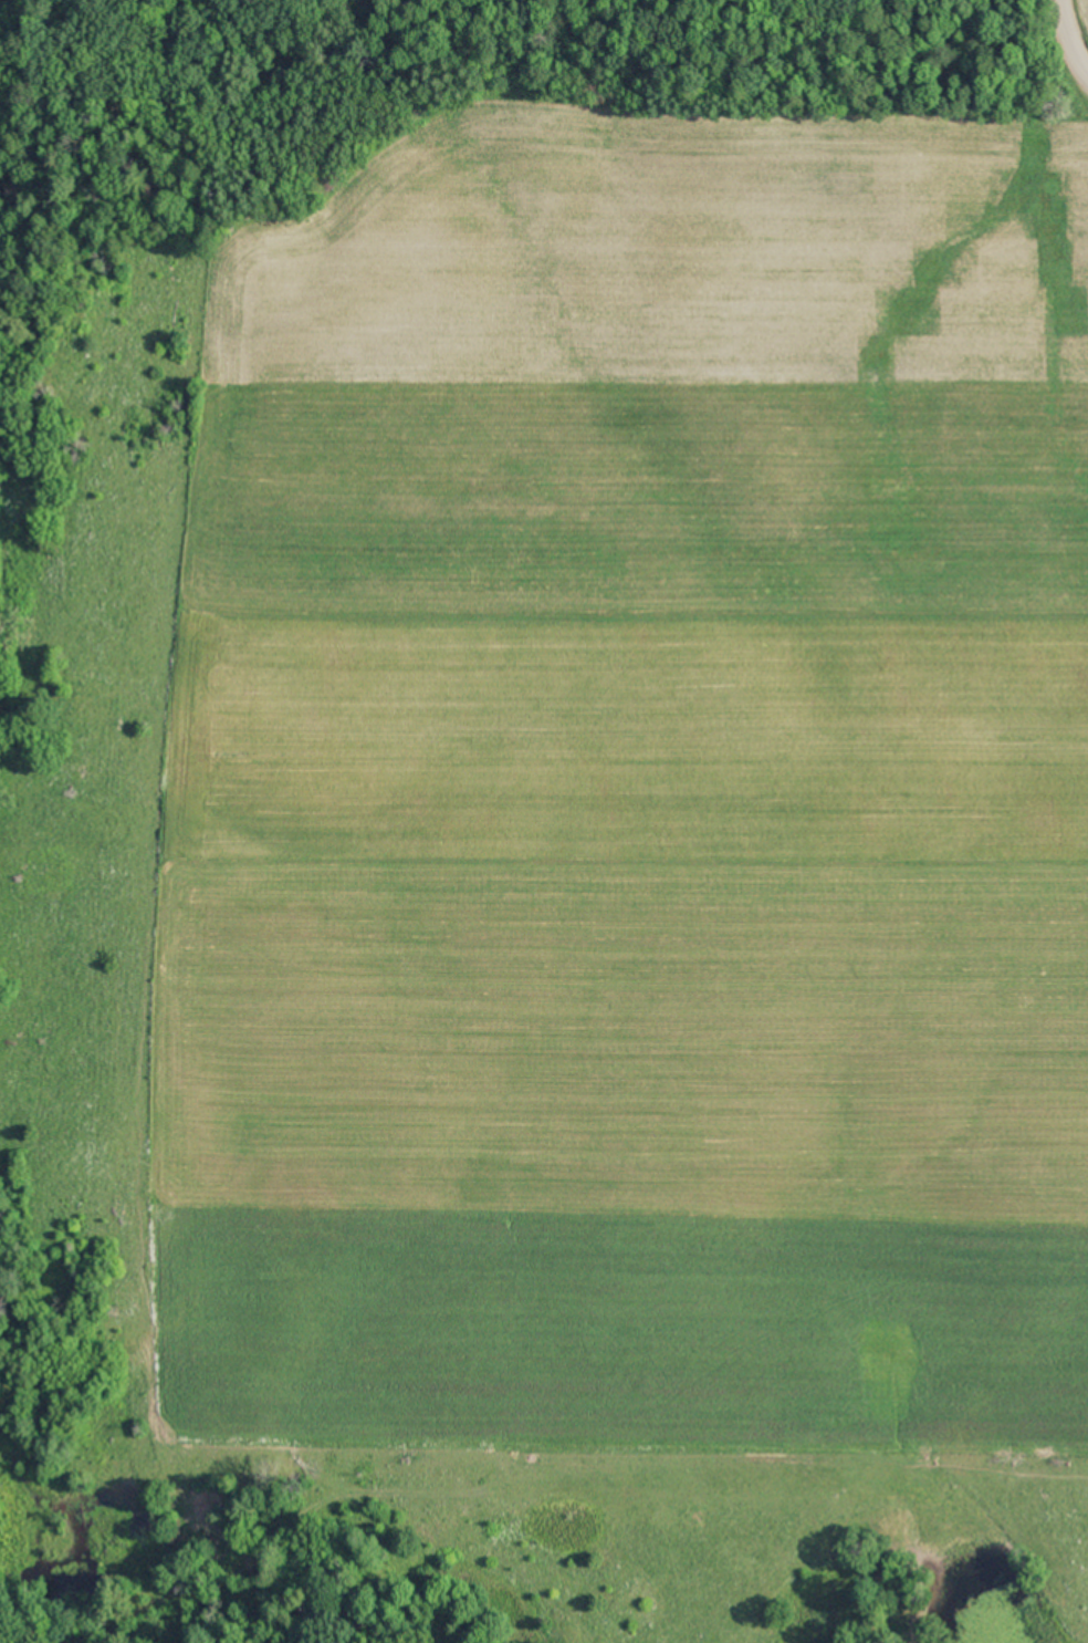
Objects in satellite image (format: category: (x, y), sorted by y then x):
road: (1060, 52)

